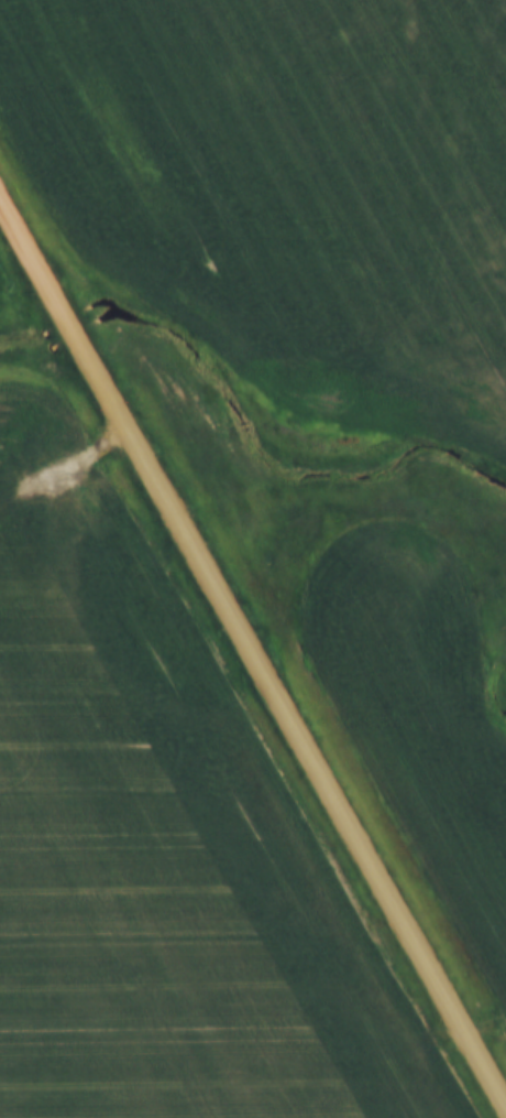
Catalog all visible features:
road: (252, 647)

